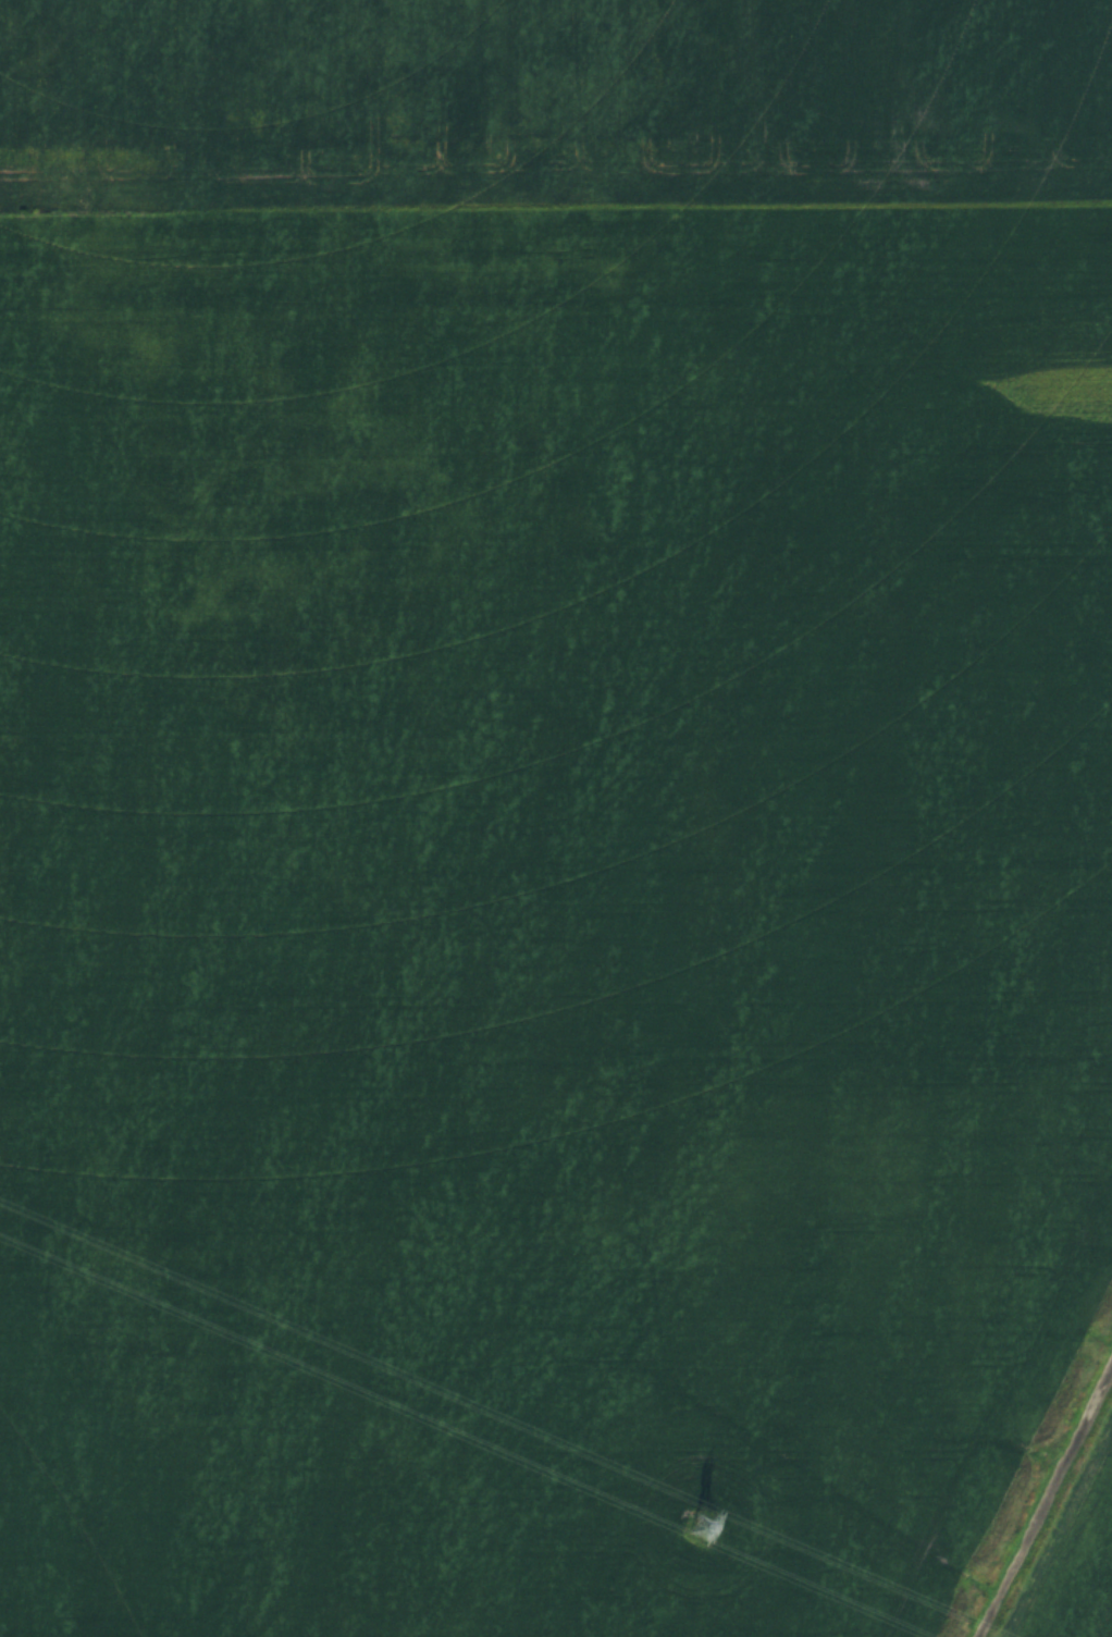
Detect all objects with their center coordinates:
power tower: (696, 1524)

